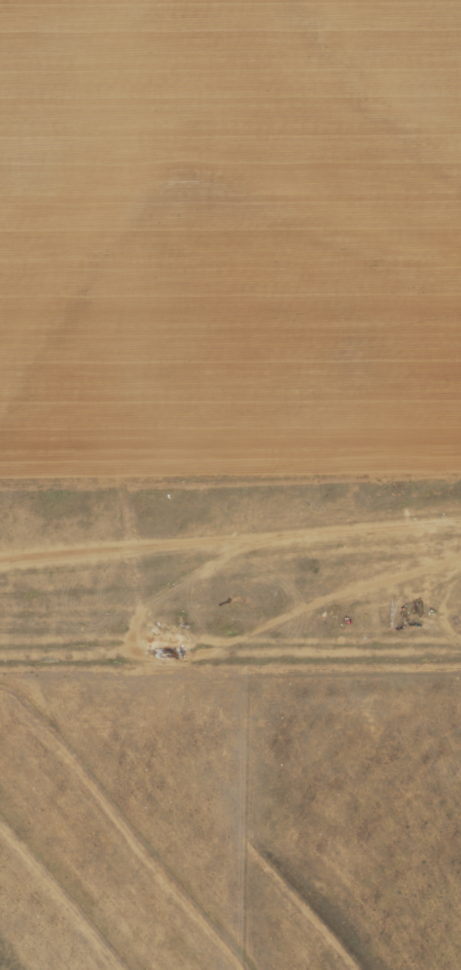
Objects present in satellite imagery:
road: (230, 538)

